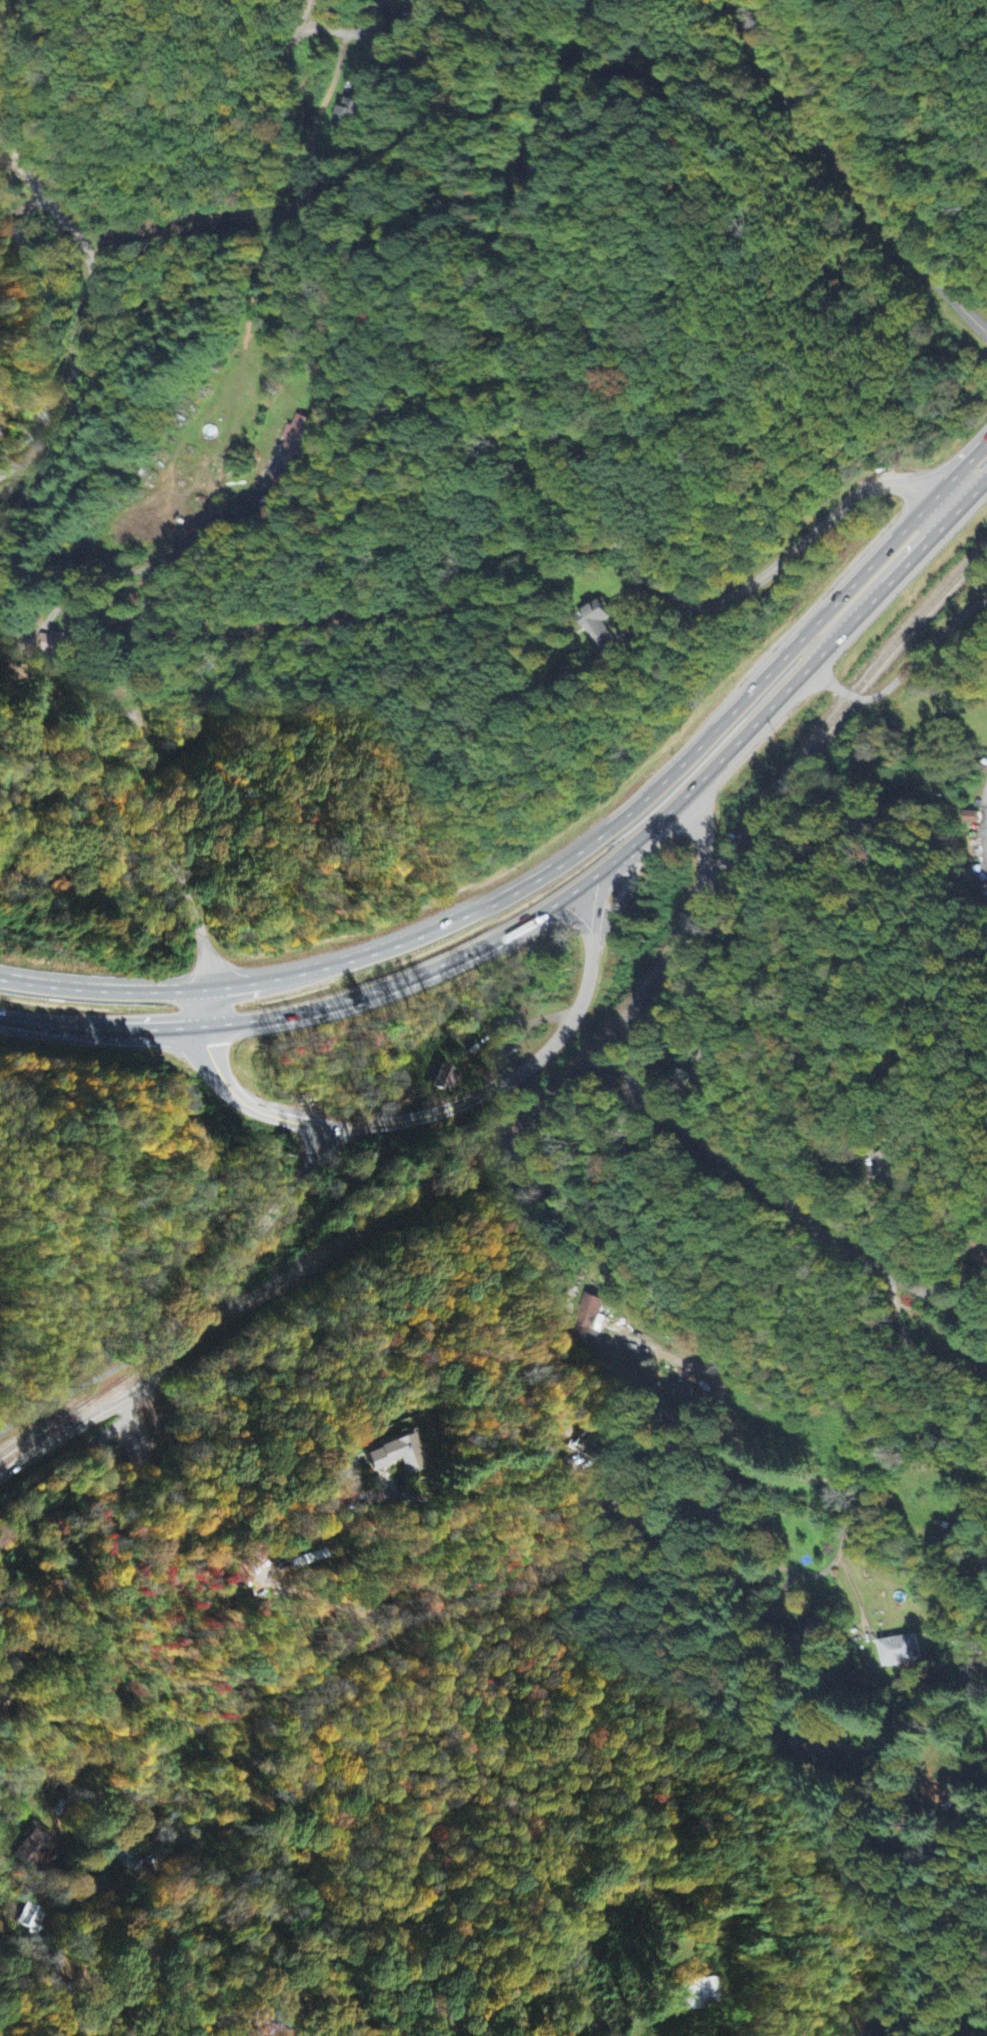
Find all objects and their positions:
building: (418, 9)
road: (746, 33)
road: (5, 53)
road: (19, 112)
building: (351, 118)
road: (10, 145)
road: (846, 181)
road: (218, 183)
road: (964, 310)
road: (87, 323)
road: (643, 357)
building: (297, 442)
road: (553, 461)
road: (960, 469)
road: (970, 496)
road: (943, 505)
building: (599, 630)
road: (929, 644)
road: (839, 689)
road: (140, 718)
road: (784, 849)
road: (534, 880)
road: (544, 908)
road: (941, 941)
road: (524, 1066)
railway: (565, 1077)
building: (444, 1079)
road: (233, 1090)
road: (671, 1121)
road: (451, 1316)
road: (180, 1321)
road: (715, 1355)
road: (916, 1357)
road: (84, 1384)
building: (399, 1456)
road: (981, 1554)
building: (899, 1651)
road: (864, 1838)
building: (33, 1848)
building: (127, 1857)
road: (52, 1899)
building: (33, 1921)
building: (694, 1994)
road: (364, 2018)

